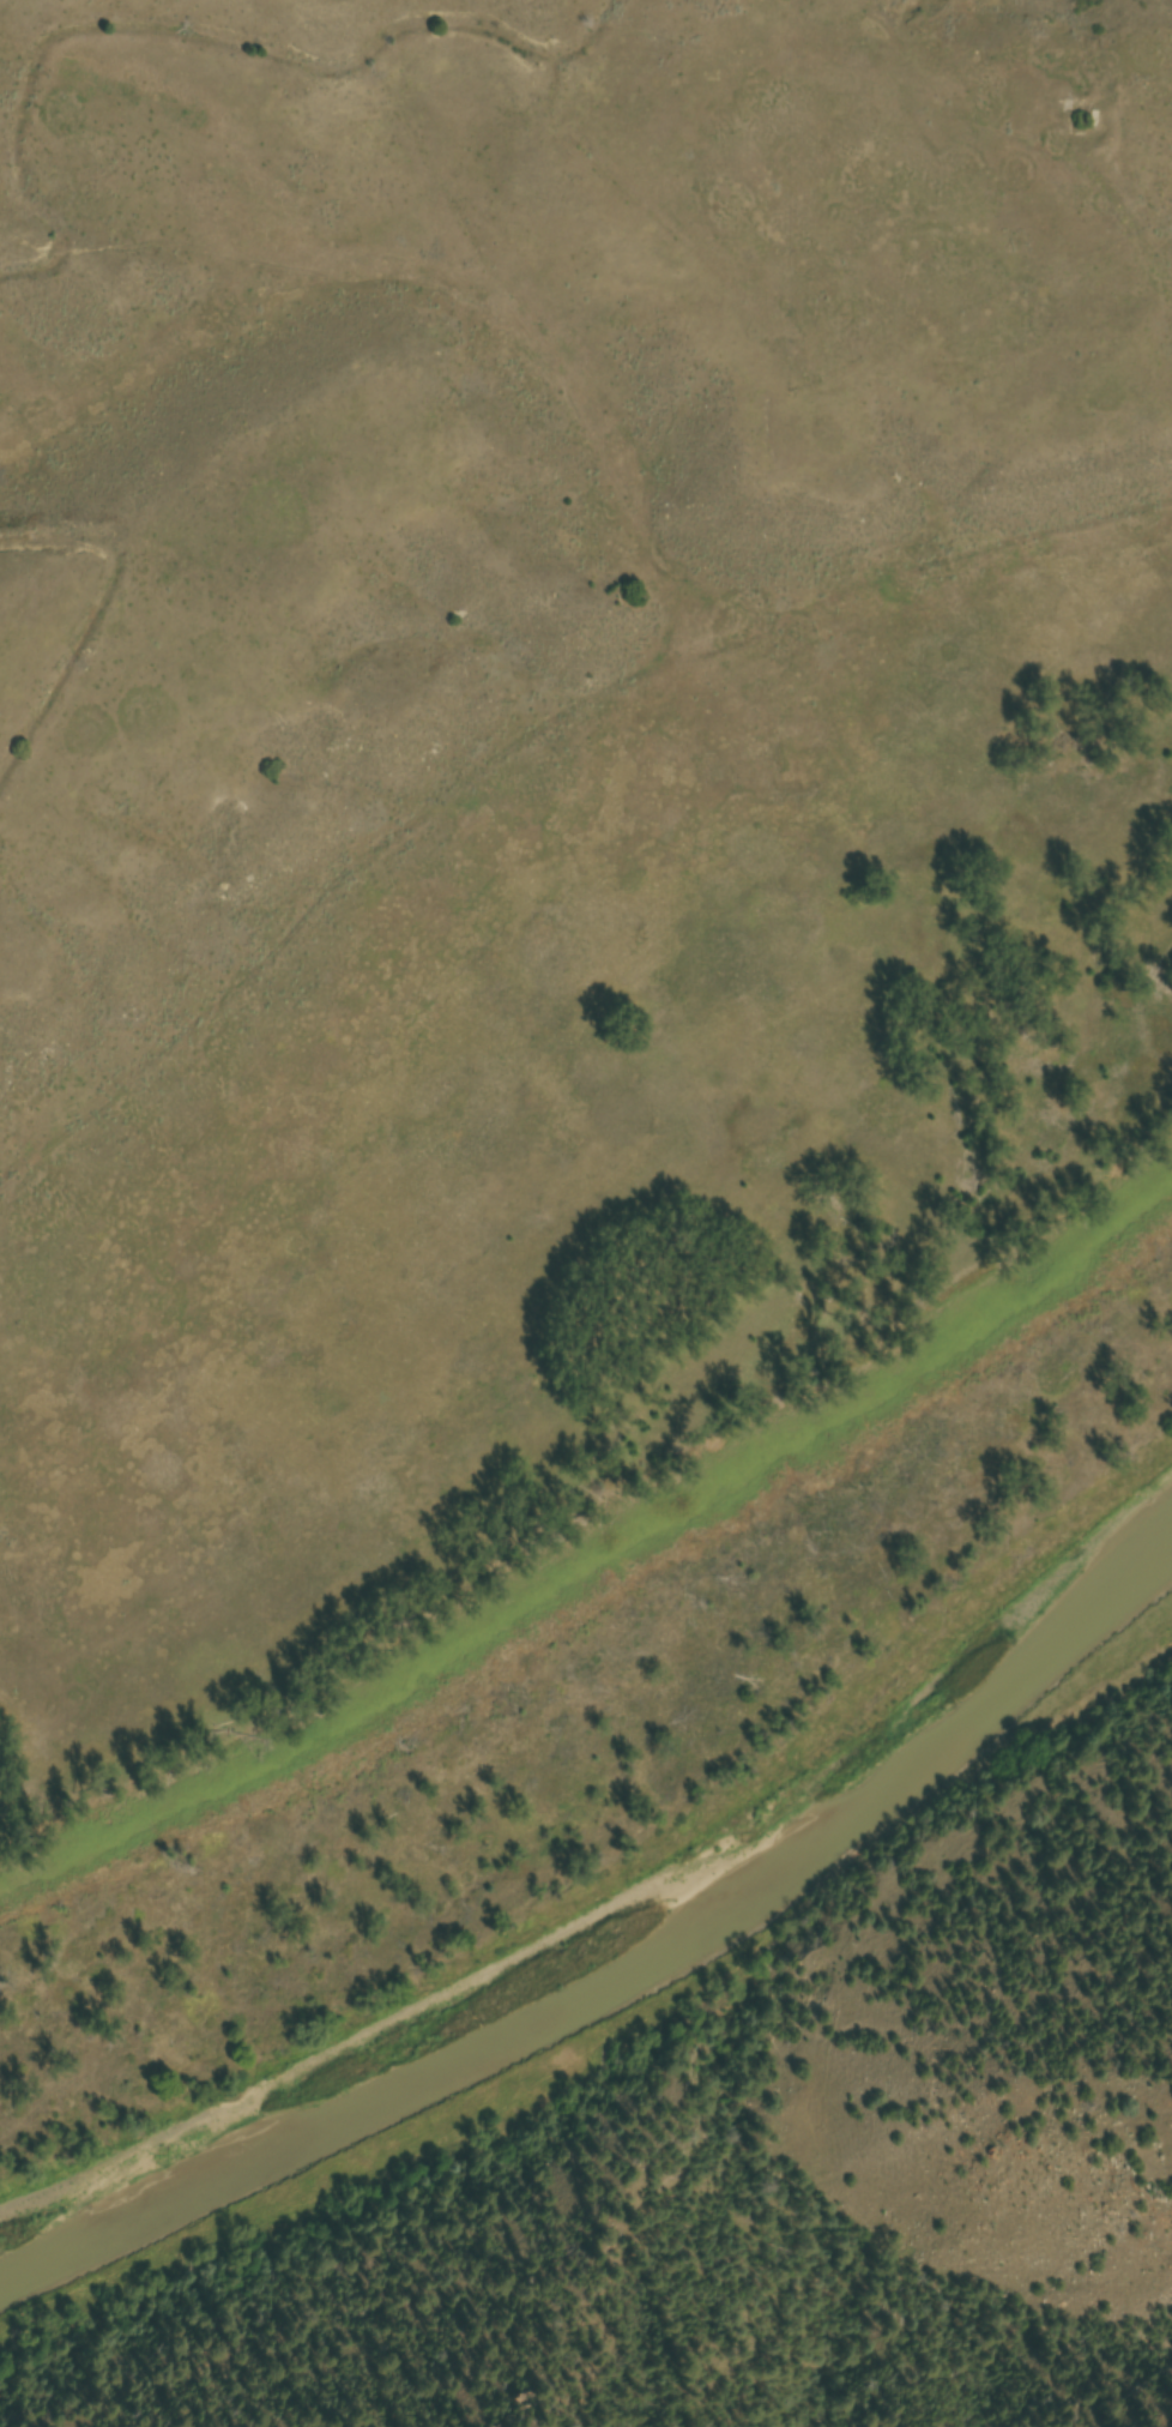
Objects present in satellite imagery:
park: (1155, 68)
park: (511, 1132)
river: (626, 1985)

